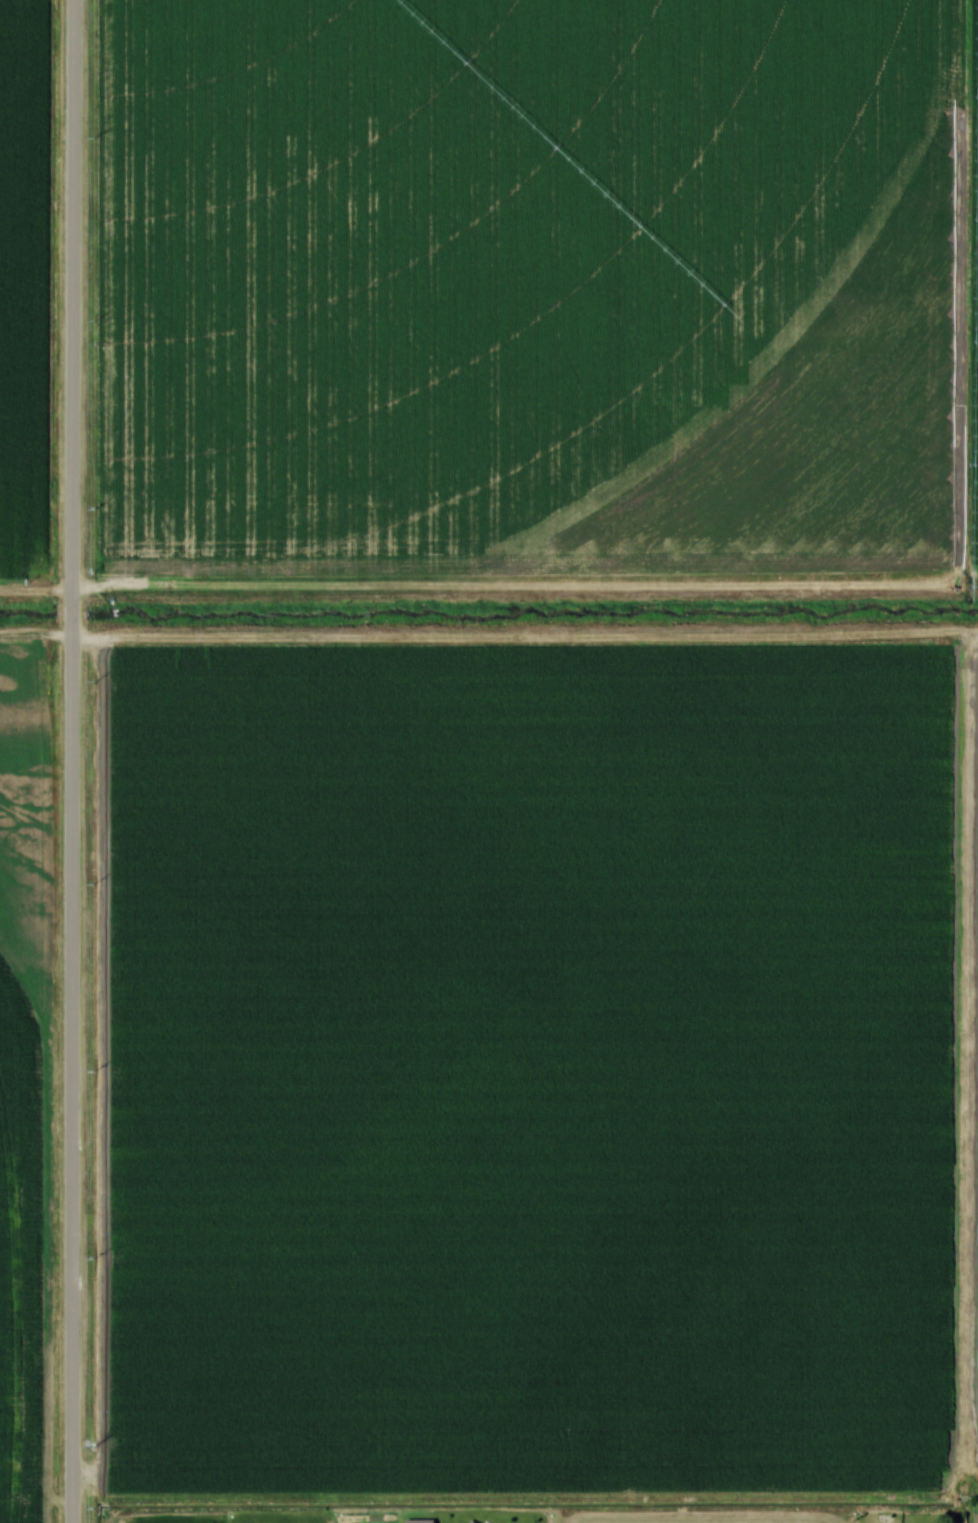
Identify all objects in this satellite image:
road: (73, 301)
road: (71, 616)
road: (71, 990)
road: (72, 1436)
building: (419, 1521)
building: (473, 1522)
building: (484, 1522)

